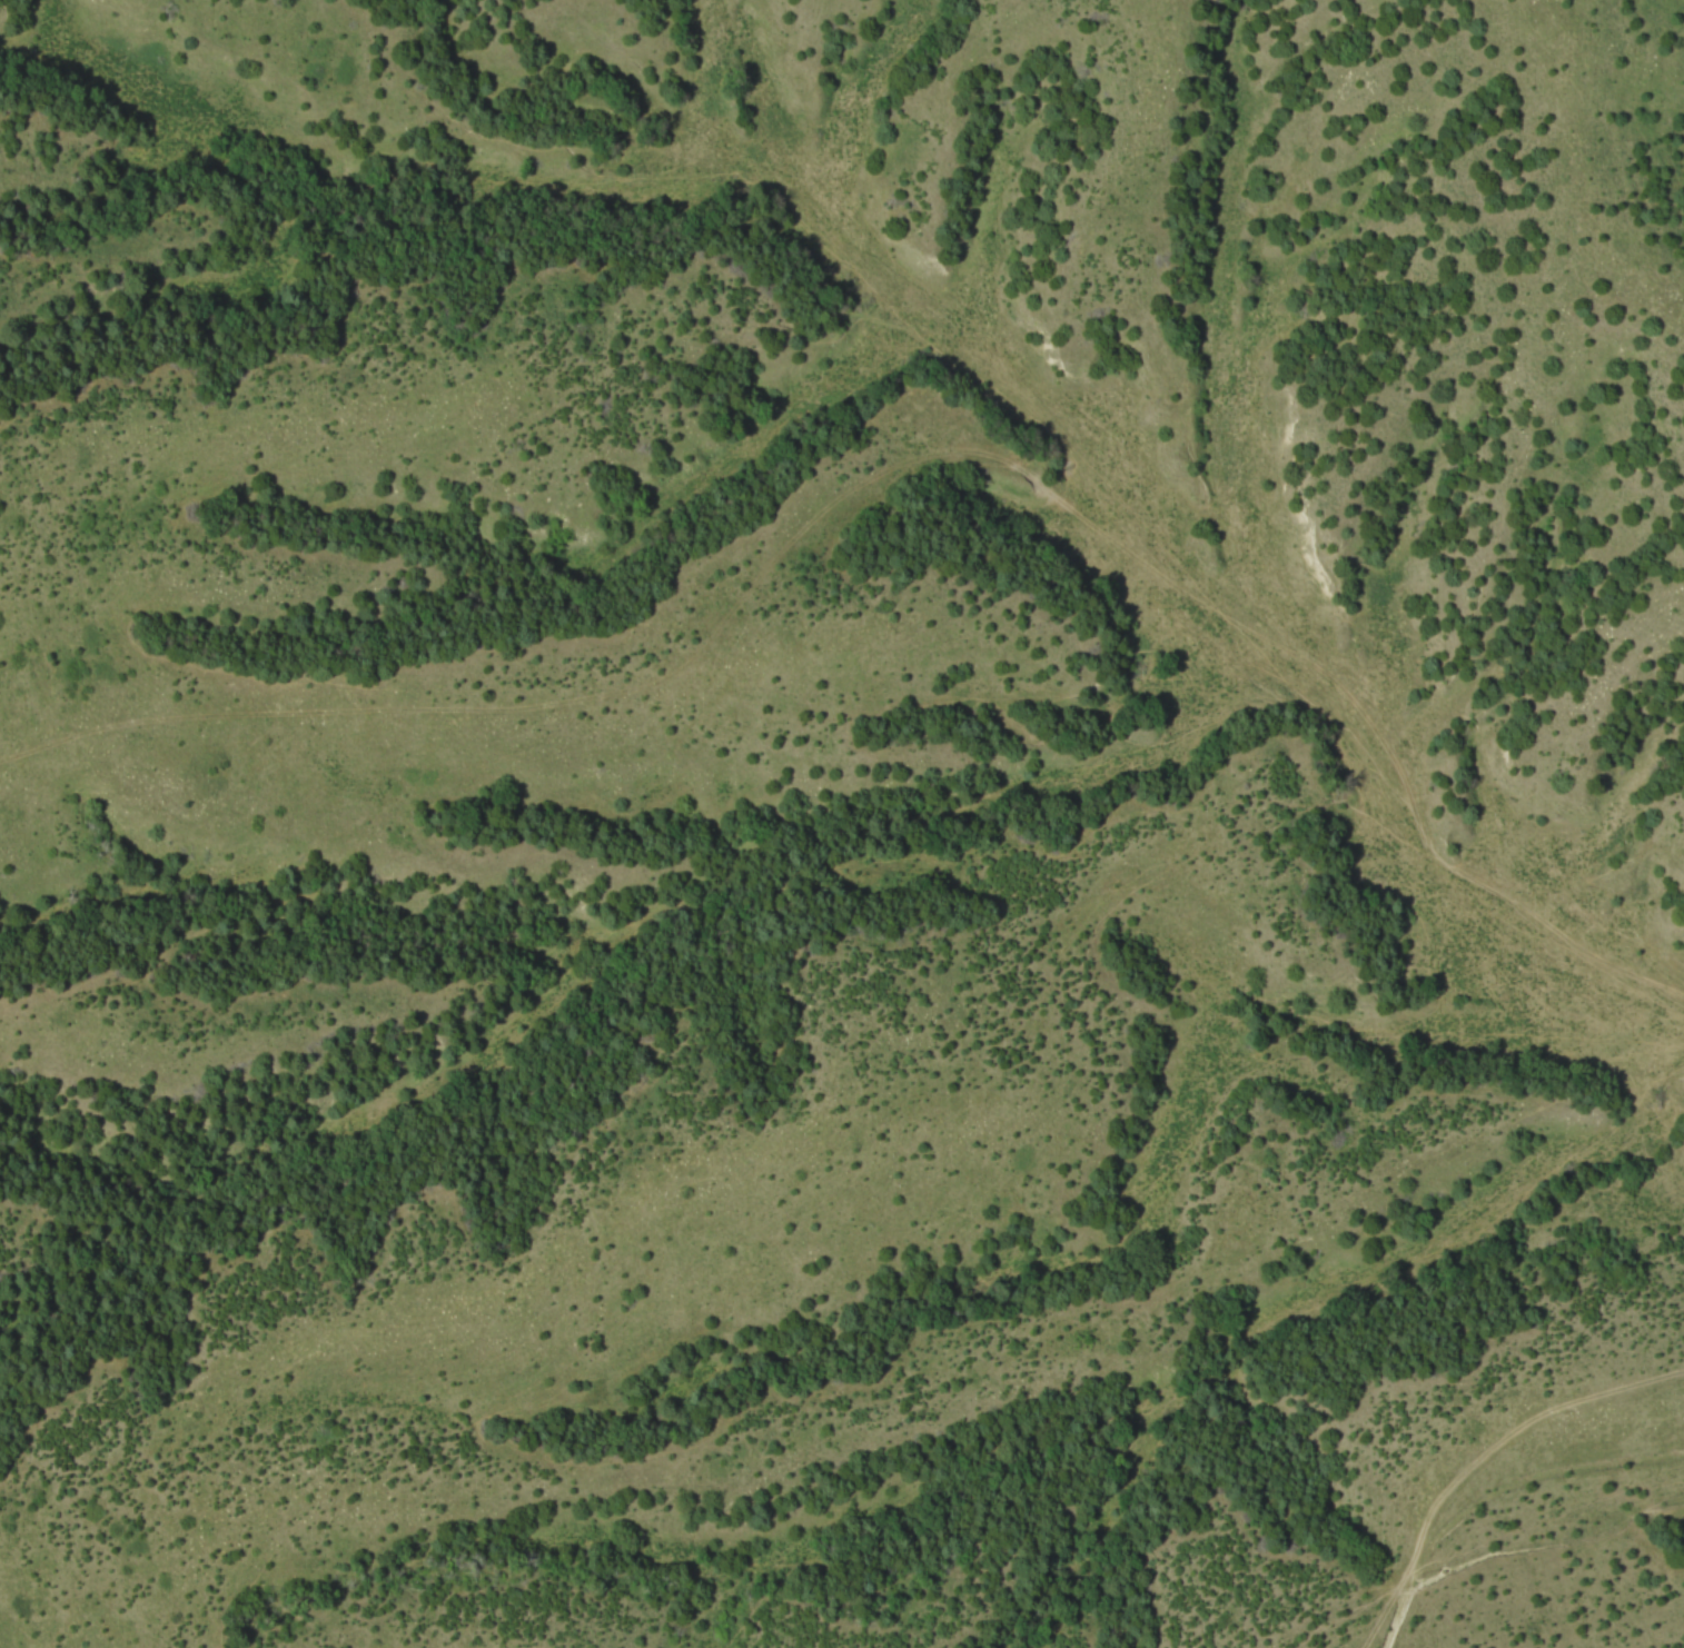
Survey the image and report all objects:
road: (1480, 1455)

